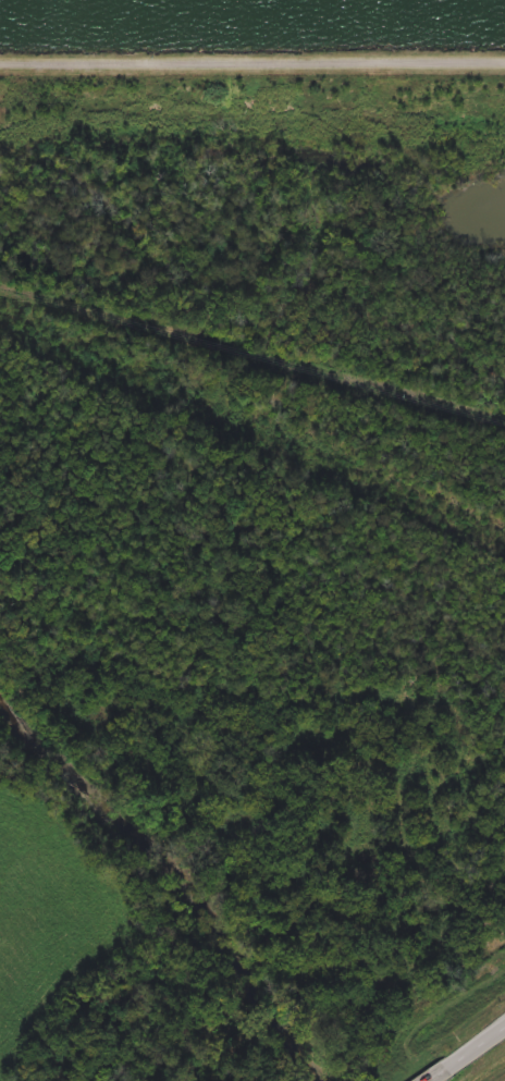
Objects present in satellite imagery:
river: (186, 865)
road: (477, 1046)
road: (438, 1073)

